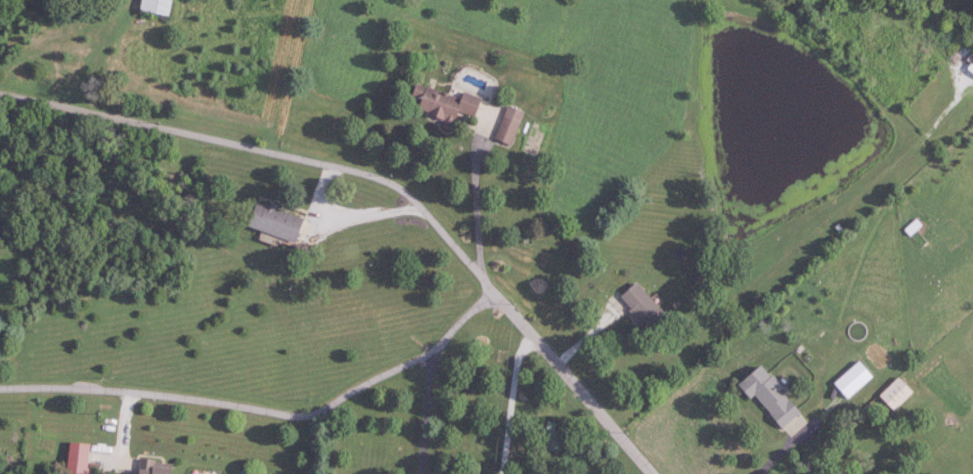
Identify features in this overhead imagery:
building: (159, 6)
building: (971, 58)
building: (446, 105)
building: (510, 126)
road: (380, 190)
road: (471, 206)
building: (278, 222)
building: (914, 227)
building: (645, 307)
building: (855, 379)
building: (898, 393)
building: (773, 396)
road: (512, 405)
road: (262, 409)
road: (421, 410)
road: (115, 430)
building: (553, 435)
road: (776, 454)
building: (80, 458)
building: (155, 467)

